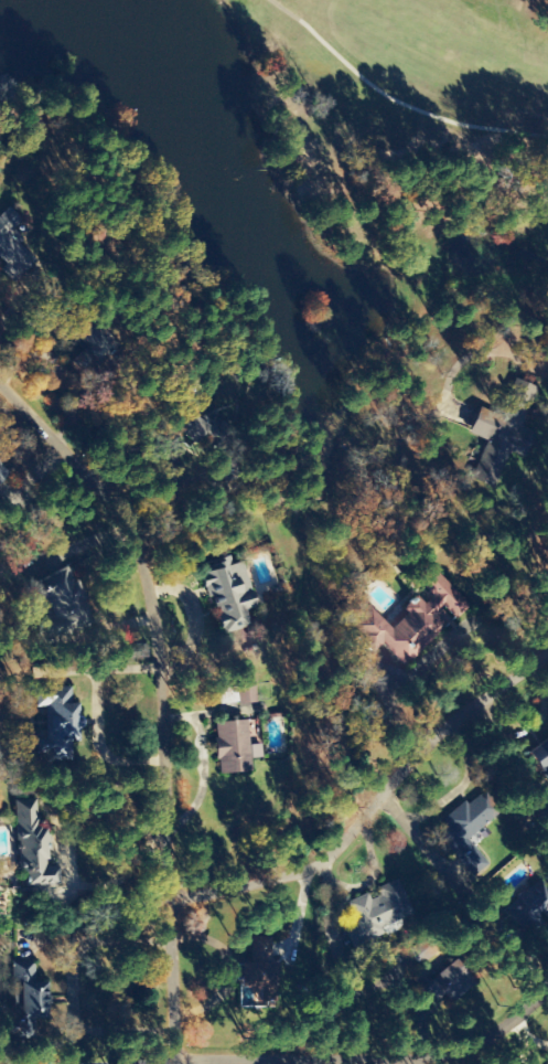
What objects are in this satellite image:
park: (335, 149)
building: (13, 244)
building: (183, 426)
building: (505, 433)
building: (227, 594)
building: (60, 608)
building: (410, 620)
building: (245, 692)
road: (157, 700)
building: (56, 722)
building: (233, 746)
building: (540, 759)
road: (368, 802)
building: (464, 824)
building: (32, 845)
building: (529, 913)
building: (258, 965)
building: (447, 983)
building: (25, 994)
road: (370, 1062)
road: (154, 1063)

